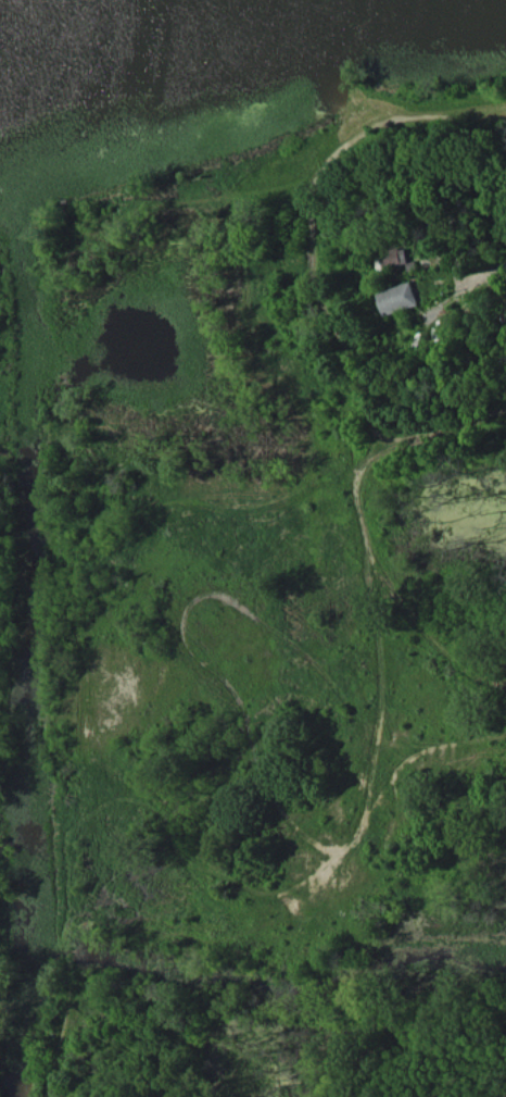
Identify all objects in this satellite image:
road: (493, 180)
building: (393, 257)
building: (399, 298)

